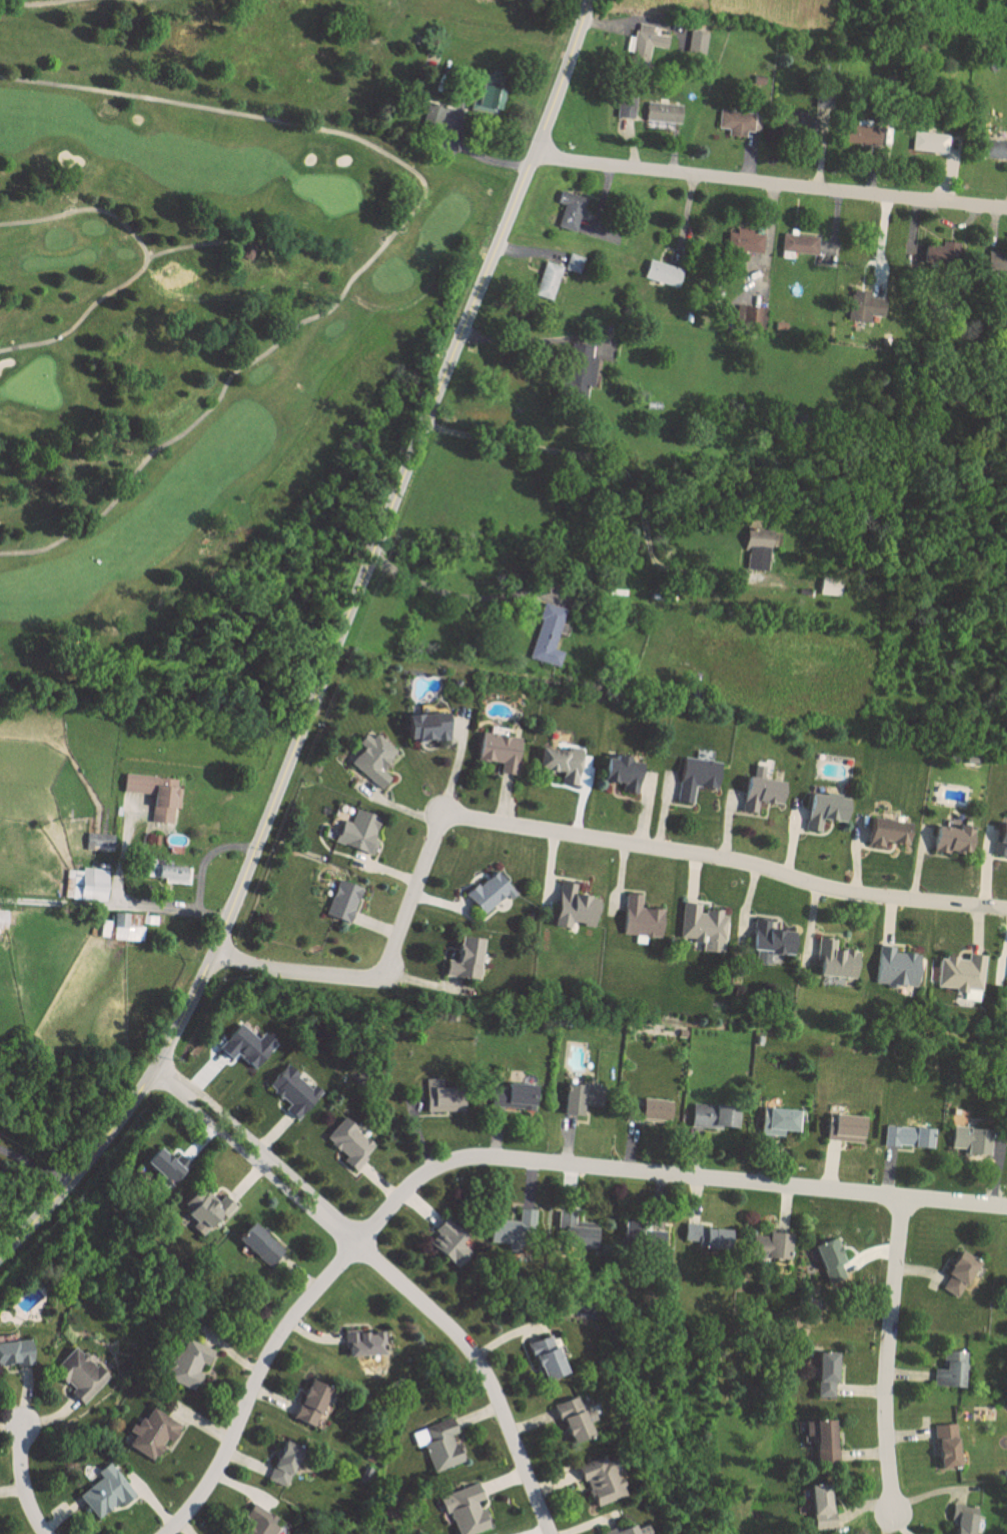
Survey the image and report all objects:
road: (36, 2)
building: (695, 41)
building: (644, 42)
building: (484, 92)
building: (625, 105)
building: (662, 111)
building: (432, 115)
building: (738, 121)
building: (803, 122)
building: (862, 134)
building: (930, 141)
building: (994, 148)
road: (770, 183)
building: (568, 209)
road: (387, 239)
building: (743, 239)
building: (797, 243)
road: (145, 261)
building: (571, 262)
building: (660, 272)
building: (545, 279)
building: (862, 305)
building: (745, 314)
park: (223, 320)
road: (526, 341)
road: (615, 462)
building: (828, 586)
road: (463, 595)
building: (546, 634)
road: (333, 651)
building: (424, 726)
building: (497, 751)
building: (370, 758)
building: (559, 762)
building: (620, 772)
building: (694, 776)
building: (759, 787)
building: (152, 789)
building: (822, 810)
building: (356, 831)
road: (556, 832)
building: (884, 832)
building: (1000, 838)
building: (950, 839)
building: (97, 842)
road: (204, 858)
building: (166, 872)
building: (87, 882)
building: (487, 892)
road: (128, 901)
building: (340, 901)
road: (62, 902)
building: (571, 907)
building: (2, 918)
building: (638, 919)
building: (125, 926)
building: (702, 927)
building: (104, 928)
building: (767, 940)
building: (463, 959)
building: (833, 960)
building: (898, 967)
building: (960, 971)
building: (245, 1045)
building: (291, 1091)
building: (516, 1095)
building: (440, 1097)
building: (580, 1098)
building: (647, 1110)
building: (711, 1116)
building: (777, 1121)
building: (843, 1128)
building: (906, 1136)
building: (969, 1140)
building: (348, 1143)
road: (35, 1164)
building: (165, 1164)
road: (665, 1174)
building: (204, 1212)
building: (511, 1230)
building: (576, 1233)
building: (700, 1235)
building: (447, 1243)
building: (258, 1244)
building: (770, 1248)
building: (827, 1259)
road: (389, 1274)
building: (957, 1274)
building: (362, 1342)
building: (15, 1354)
building: (545, 1358)
road: (886, 1358)
building: (186, 1363)
building: (949, 1370)
building: (824, 1374)
building: (78, 1375)
road: (254, 1385)
building: (310, 1403)
building: (571, 1420)
building: (150, 1434)
building: (820, 1436)
building: (437, 1444)
building: (945, 1446)
building: (283, 1463)
road: (22, 1478)
building: (599, 1480)
building: (103, 1492)
building: (819, 1507)
building: (464, 1510)
building: (962, 1519)
building: (260, 1523)
road: (887, 1526)
building: (623, 1530)

